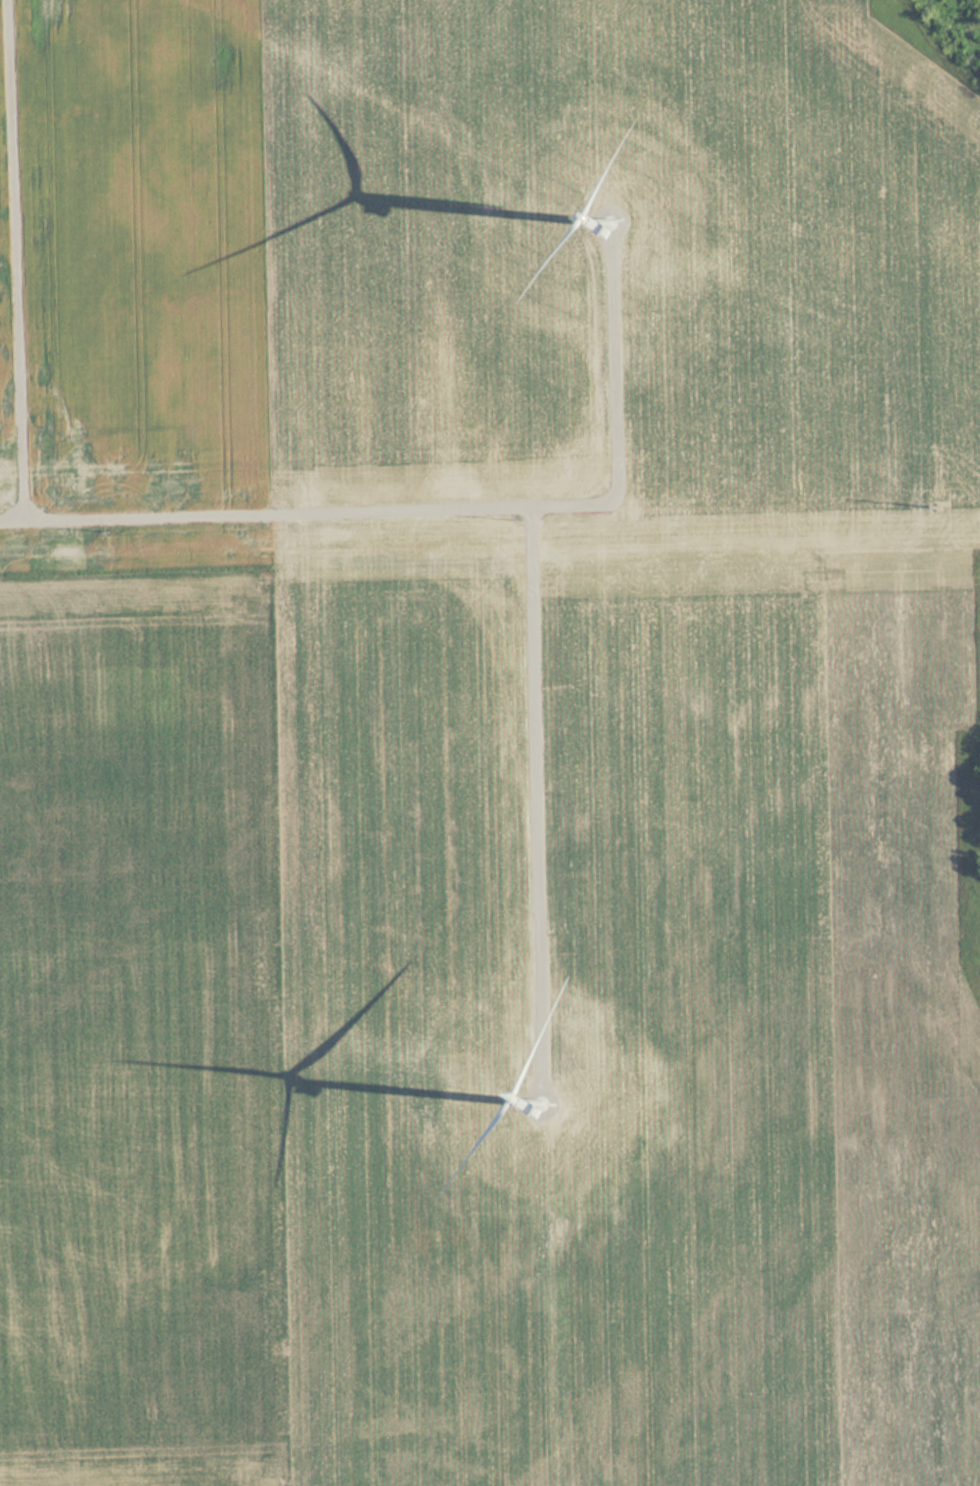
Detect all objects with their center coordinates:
wind turbine: (604, 233)
wind turbine: (520, 1101)

